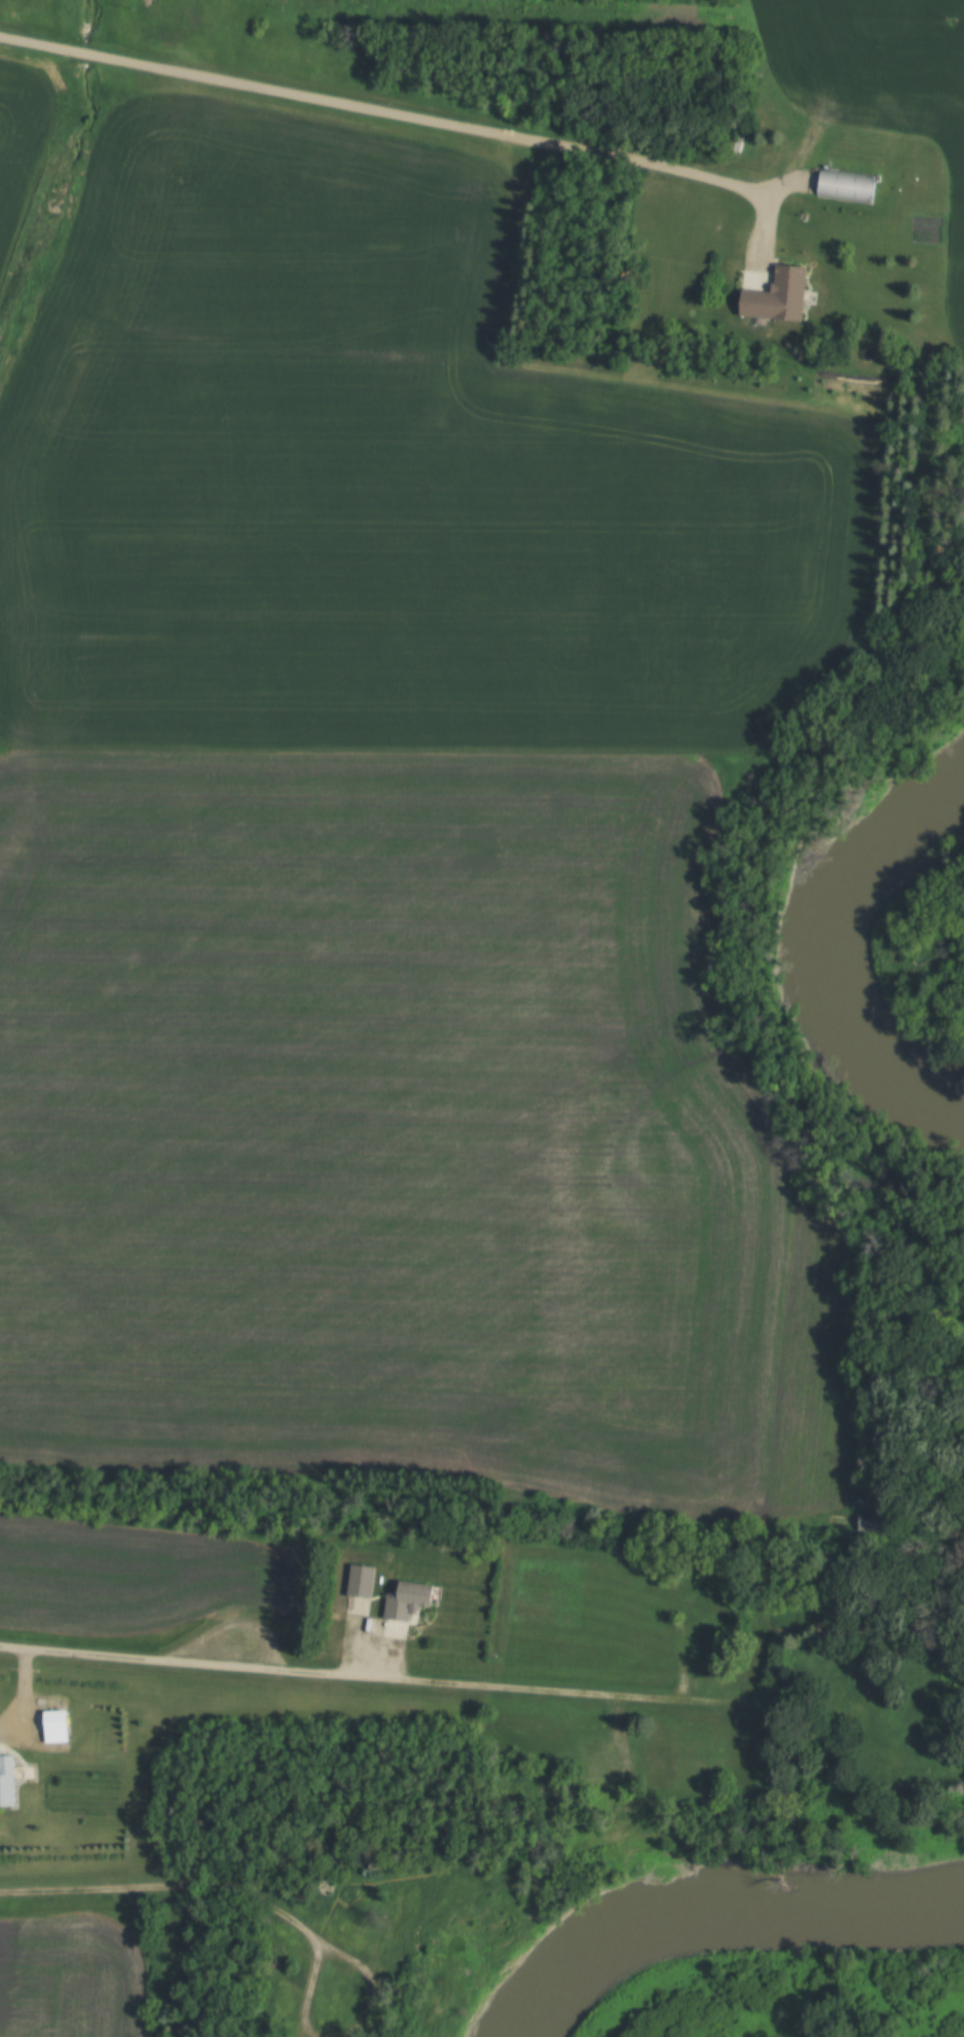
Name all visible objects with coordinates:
road: (413, 121)
building: (849, 186)
building: (742, 271)
building: (783, 296)
river: (866, 971)
building: (876, 1522)
building: (364, 1579)
building: (412, 1599)
building: (688, 1639)
building: (852, 1674)
road: (340, 1678)
building: (59, 1726)
building: (610, 1763)
building: (9, 1778)
road: (166, 1891)
building: (412, 1916)
river: (734, 1917)
building: (279, 1951)
road: (330, 1953)

